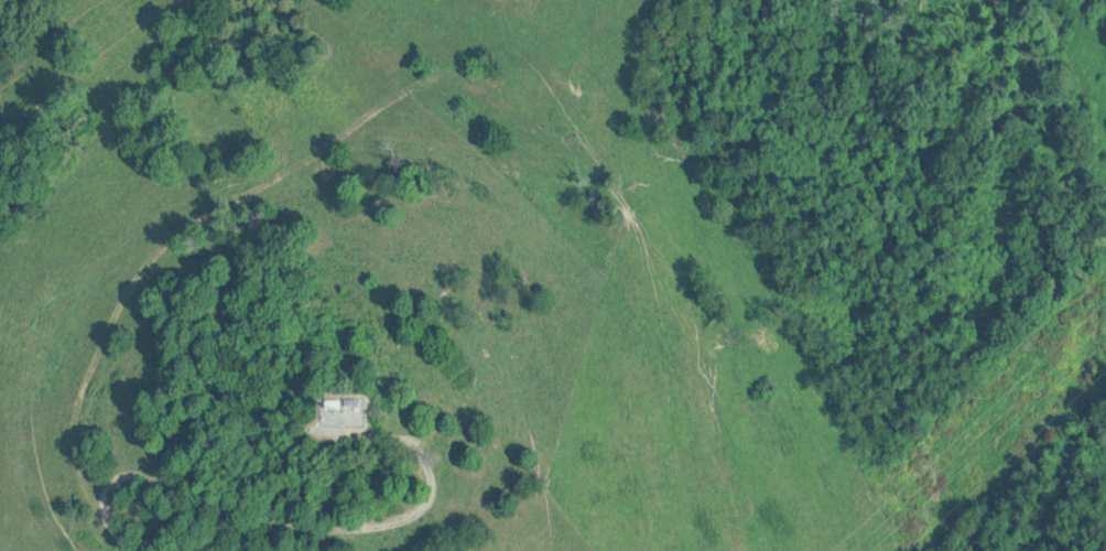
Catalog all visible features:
road: (181, 240)
road: (300, 529)

